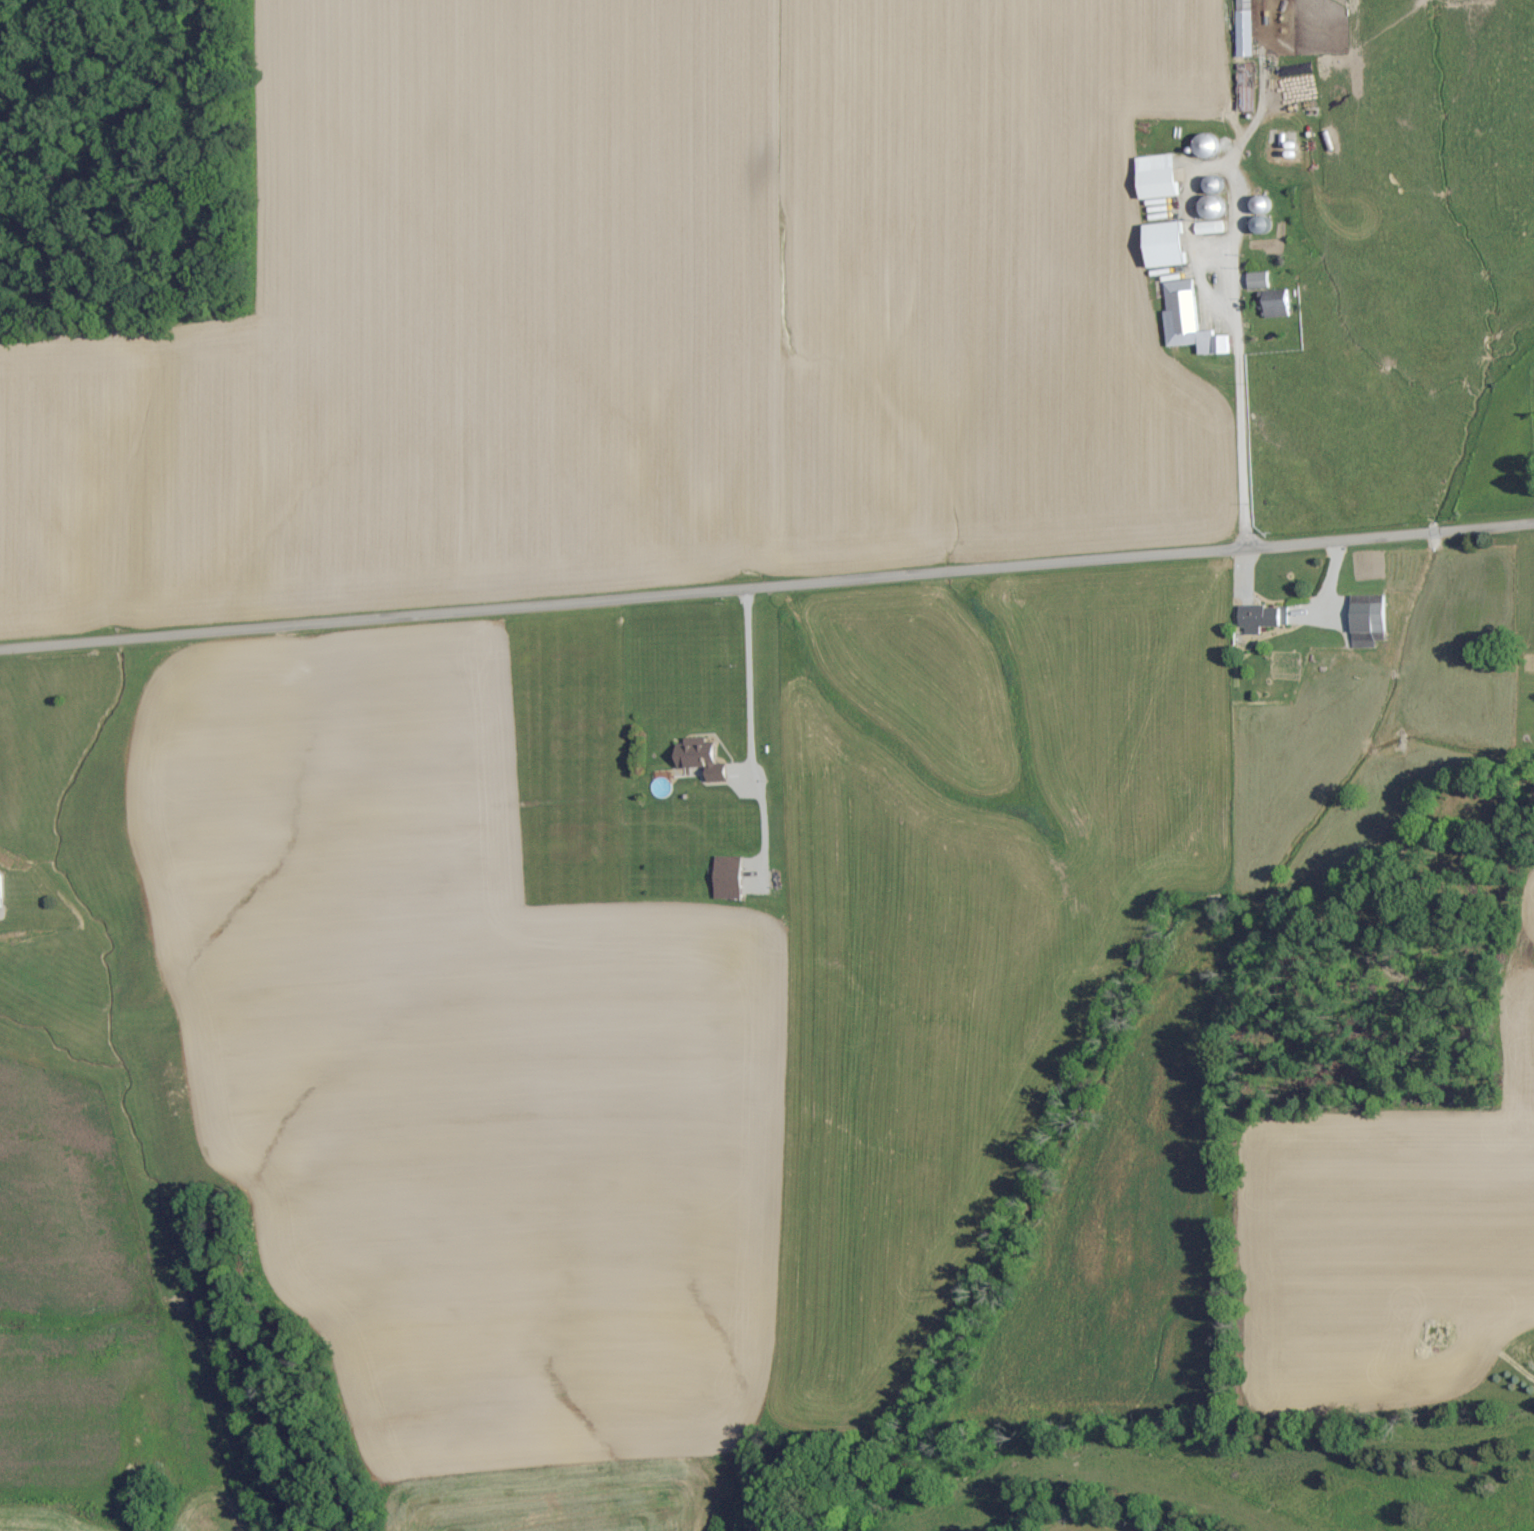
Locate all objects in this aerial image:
building: (1242, 29)
building: (1156, 177)
building: (1163, 245)
building: (1257, 281)
building: (1279, 308)
building: (1187, 321)
road: (1239, 420)
road: (767, 590)
building: (1260, 618)
building: (1365, 620)
road: (744, 690)
building: (699, 758)
building: (726, 878)
building: (0, 898)

